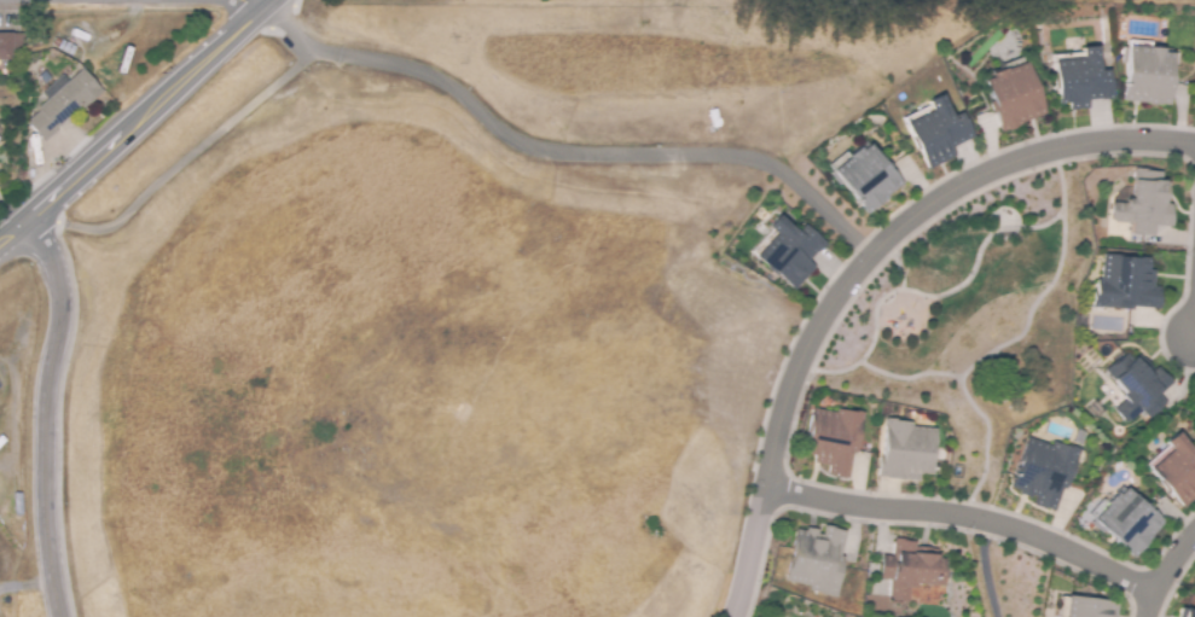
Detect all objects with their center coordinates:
road: (298, 35)
building: (63, 47)
building: (5, 53)
building: (1145, 74)
building: (1080, 81)
building: (1005, 98)
building: (63, 103)
road: (132, 115)
building: (935, 134)
road: (586, 162)
building: (862, 180)
building: (1135, 209)
road: (854, 239)
building: (784, 254)
road: (858, 267)
road: (899, 269)
building: (1124, 284)
road: (1046, 289)
road: (930, 297)
park: (974, 321)
road: (819, 351)
building: (0, 385)
building: (1136, 385)
road: (45, 408)
building: (834, 438)
road: (984, 444)
building: (907, 449)
building: (1176, 470)
building: (1037, 472)
road: (969, 519)
building: (1123, 520)
building: (820, 560)
building: (915, 569)
road: (1171, 577)
road: (25, 586)
building: (1078, 609)
building: (1183, 613)

